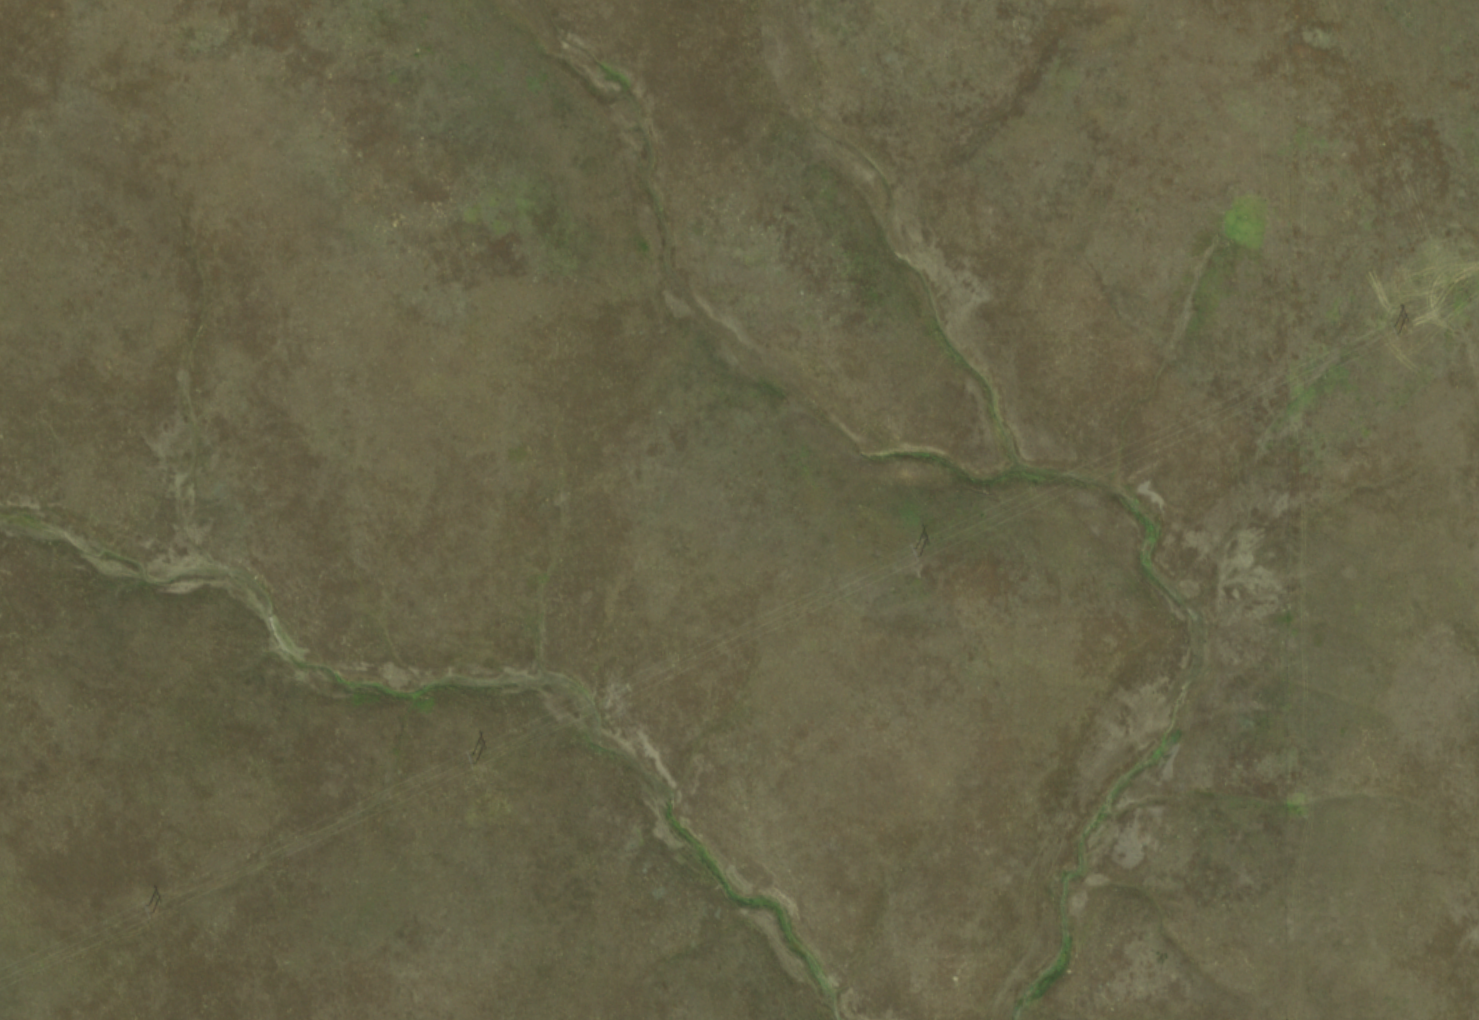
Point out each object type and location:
power tower: (1393, 328)
power tower: (916, 551)
power tower: (471, 758)
power tower: (146, 907)

